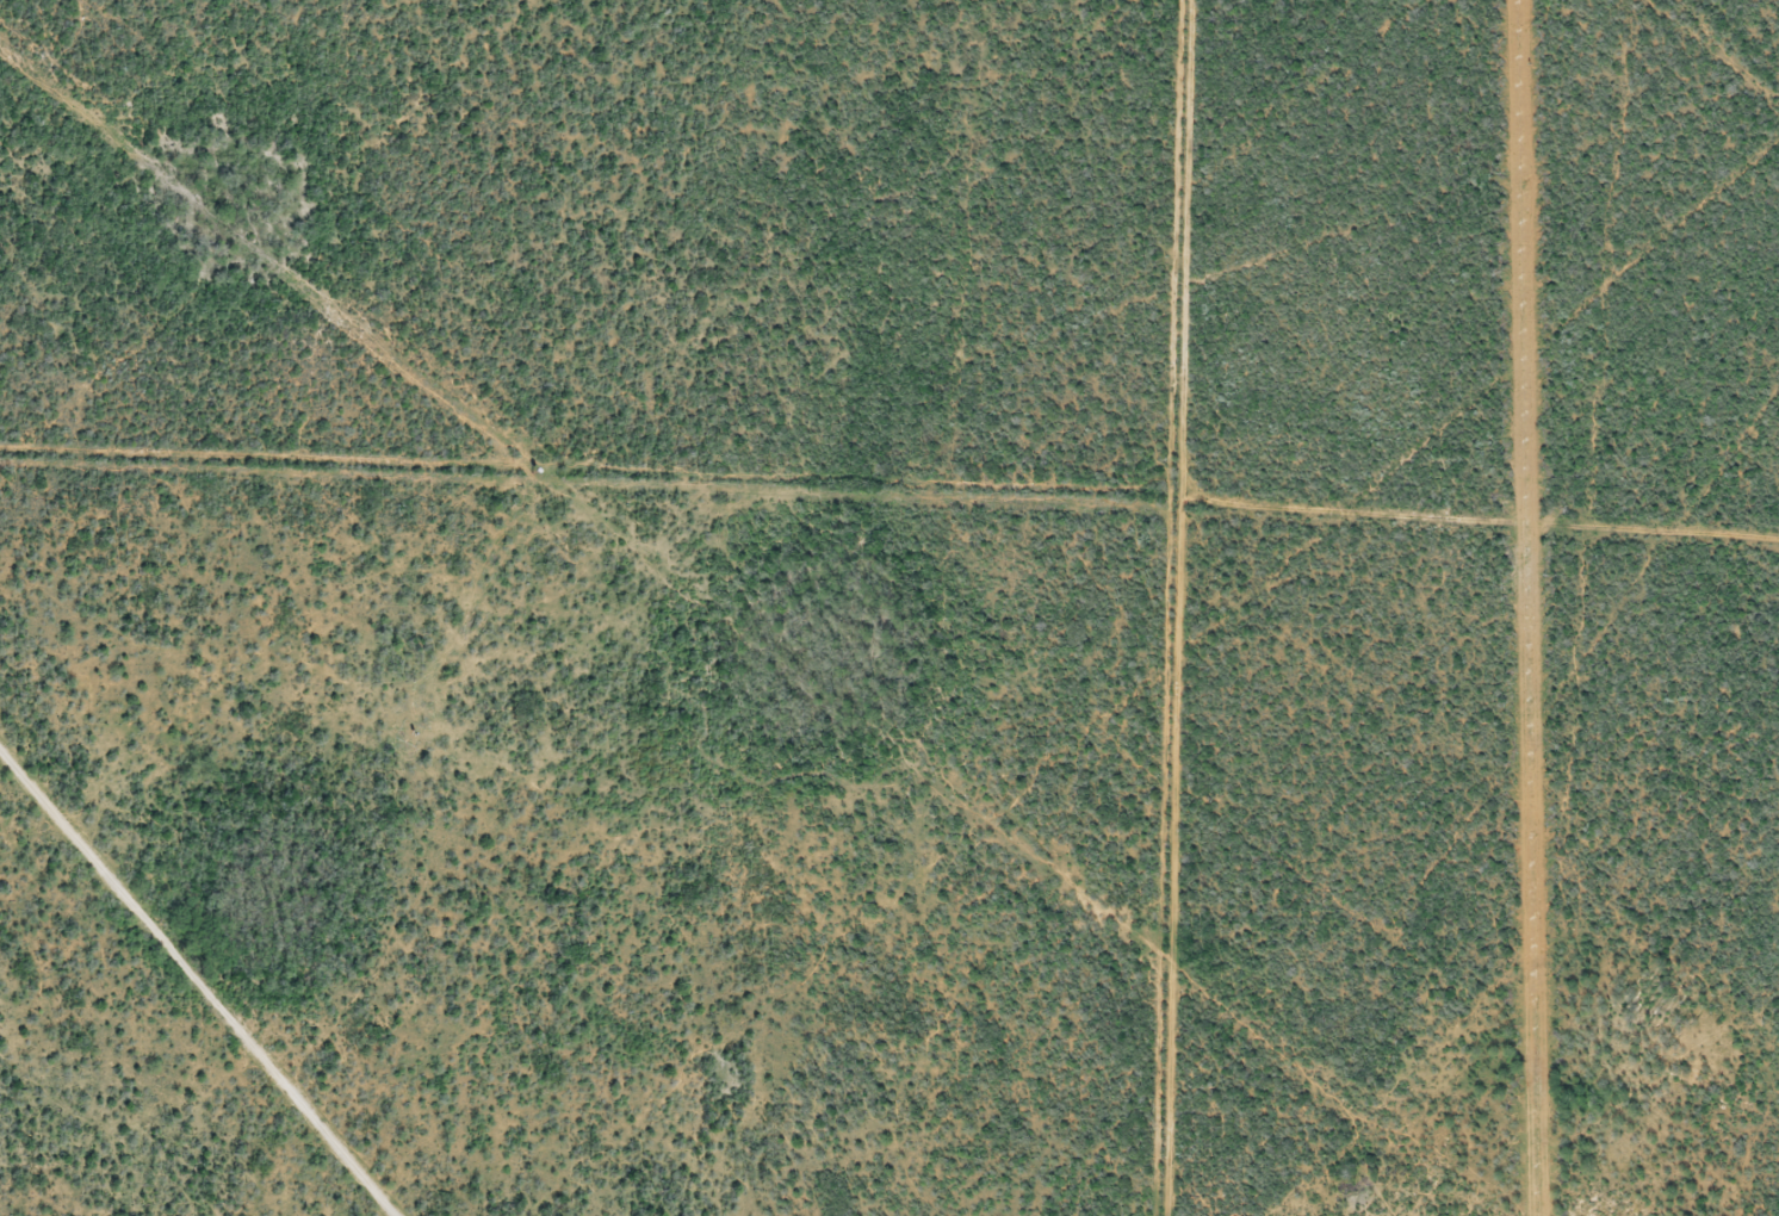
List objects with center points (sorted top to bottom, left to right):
road: (4, 1195)

